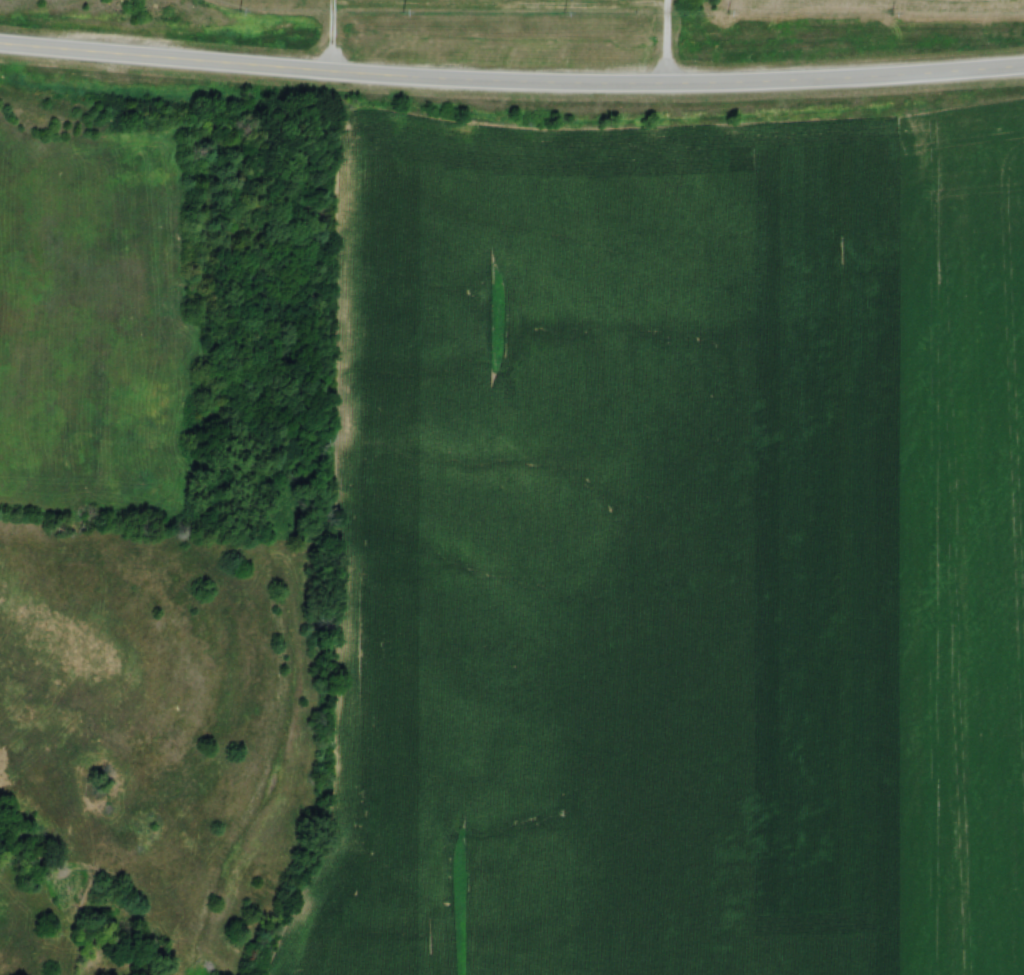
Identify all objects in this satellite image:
park: (472, 7)
road: (329, 39)
road: (667, 44)
road: (511, 84)

